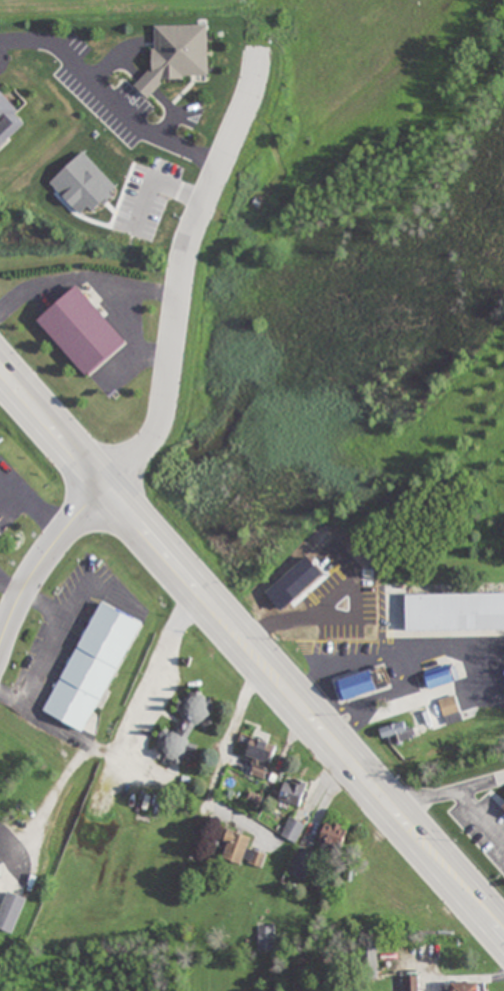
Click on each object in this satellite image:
crop: (116, 8)
building: (176, 55)
road: (106, 97)
building: (9, 120)
building: (82, 330)
road: (162, 364)
building: (323, 610)
building: (455, 612)
road: (252, 632)
building: (93, 666)
road: (251, 672)
building: (438, 676)
building: (364, 683)
building: (449, 705)
building: (186, 728)
building: (394, 732)
building: (261, 756)
building: (293, 791)
building: (503, 805)
building: (293, 830)
building: (333, 834)
building: (241, 851)
building: (301, 864)
building: (0, 876)
building: (11, 911)
building: (266, 938)
building: (369, 960)
building: (411, 983)
building: (466, 986)

